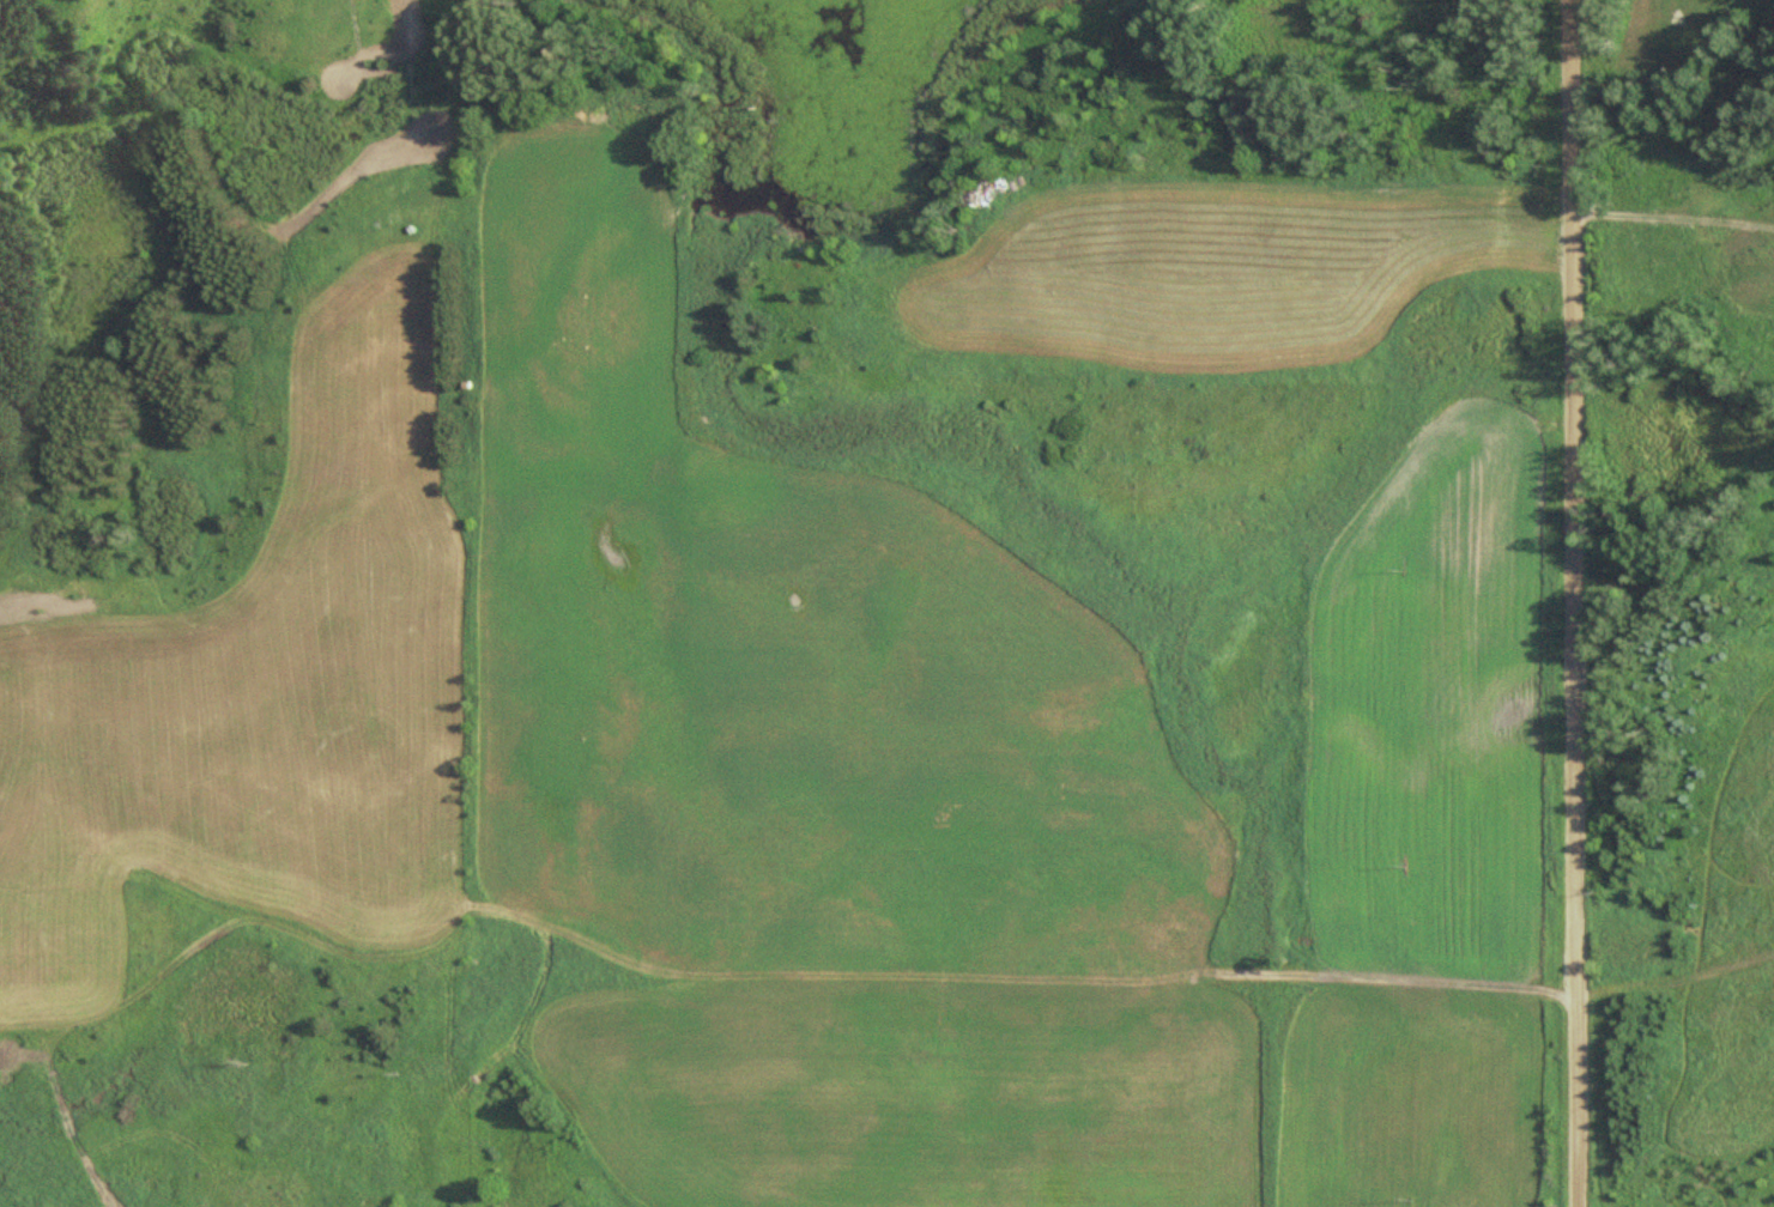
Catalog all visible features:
road: (1574, 603)

